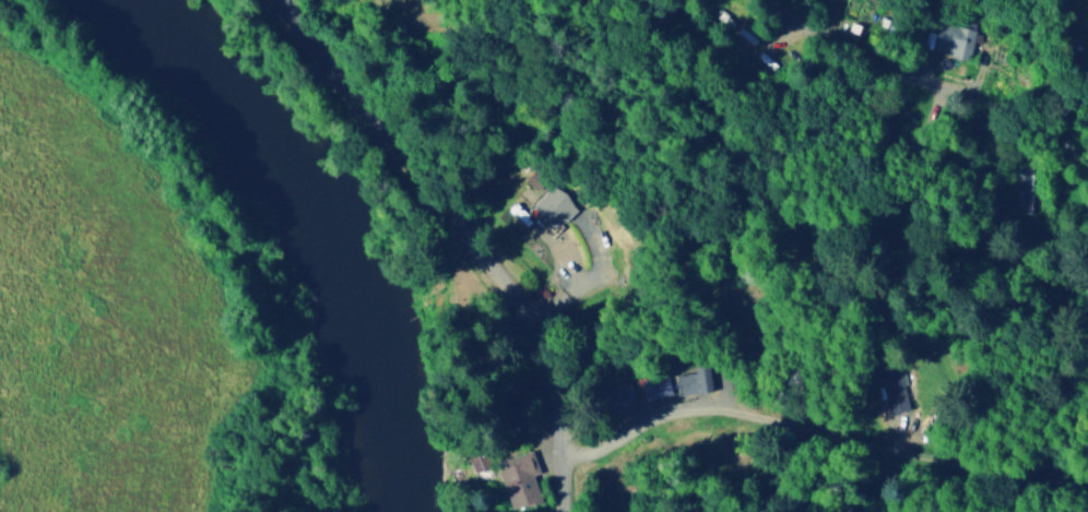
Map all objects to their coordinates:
building: (956, 38)
road: (921, 83)
building: (554, 205)
river: (306, 225)
road: (464, 241)
building: (655, 384)
building: (616, 397)
building: (897, 397)
road: (807, 428)
building: (520, 479)
road: (1073, 484)

